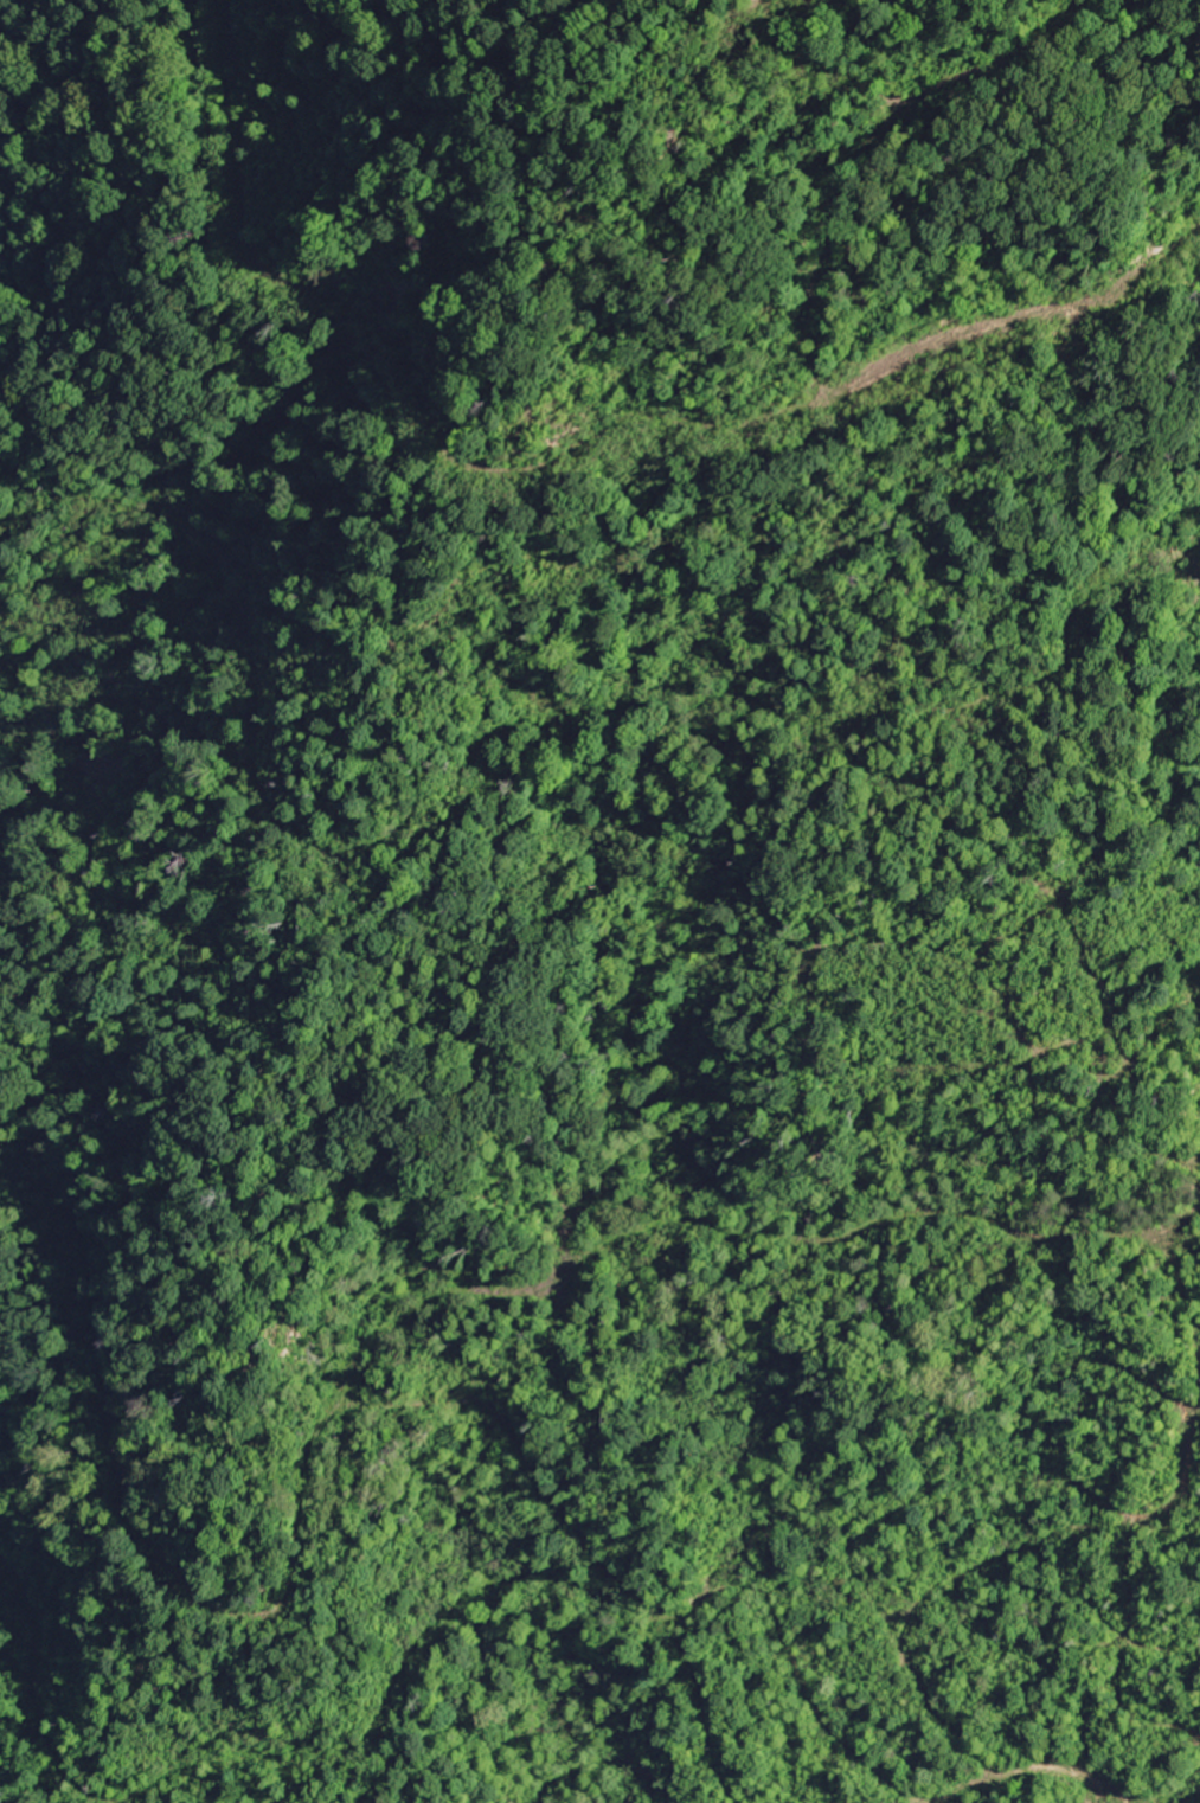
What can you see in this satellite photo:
road: (97, 1597)

